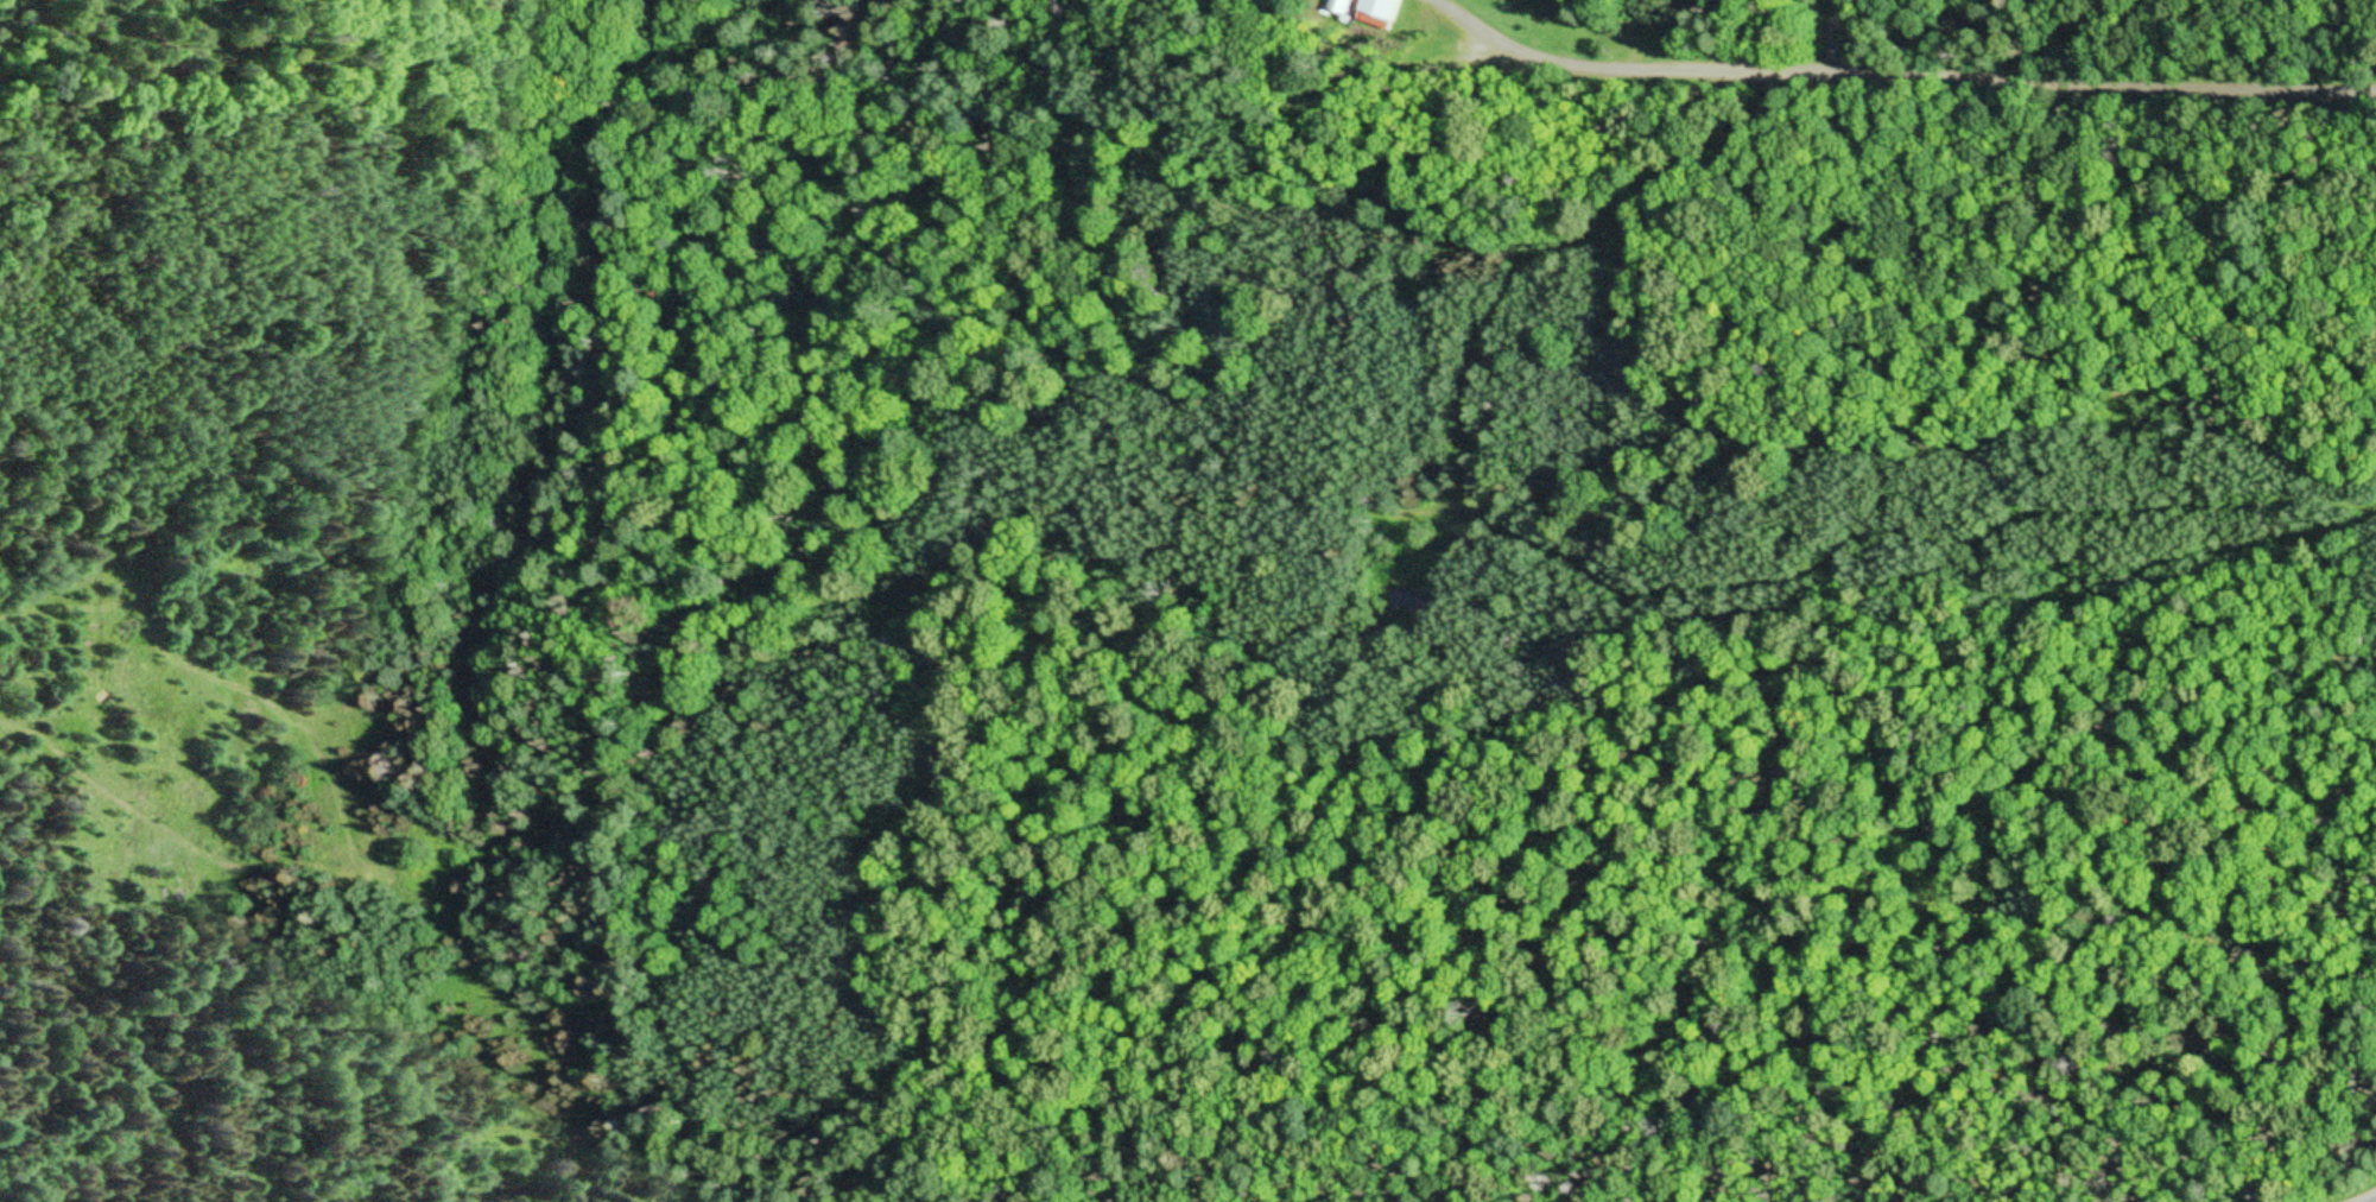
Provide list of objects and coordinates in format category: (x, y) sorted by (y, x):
road: (1890, 65)

